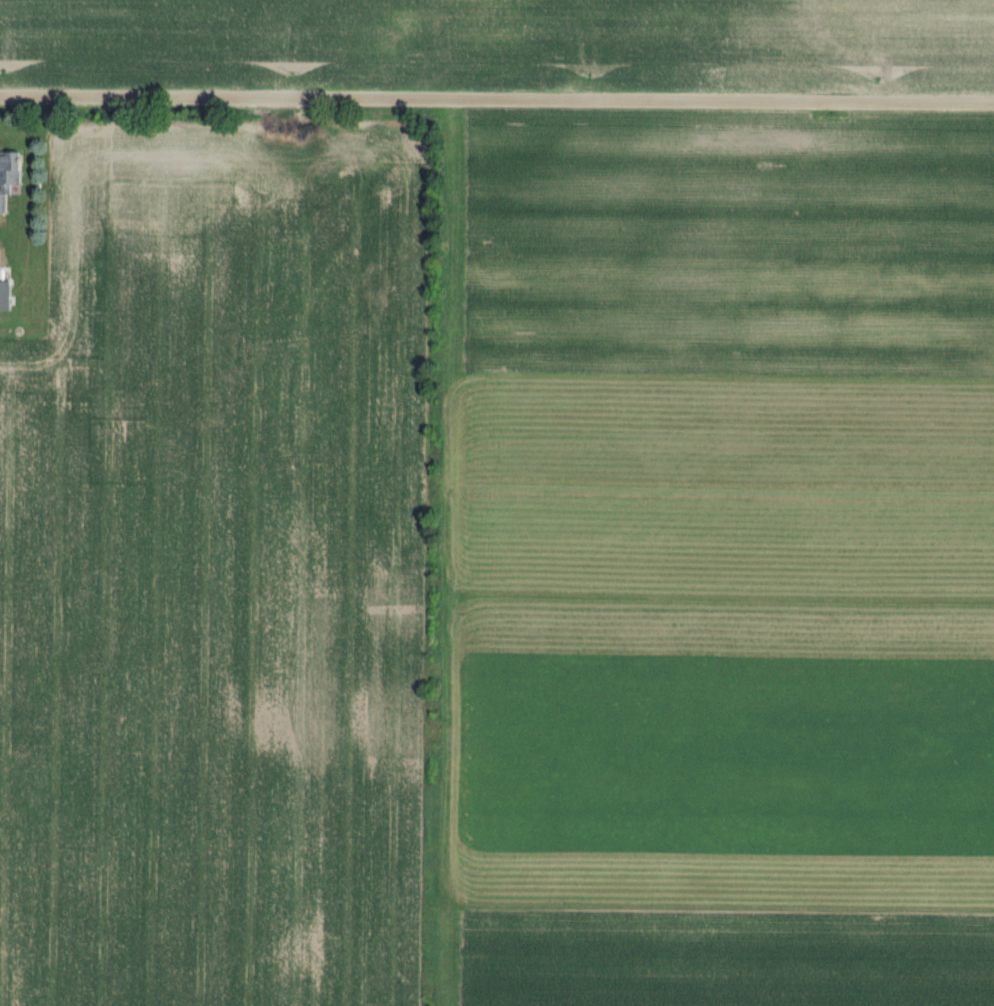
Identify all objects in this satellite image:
road: (496, 100)
building: (9, 176)
building: (5, 295)

